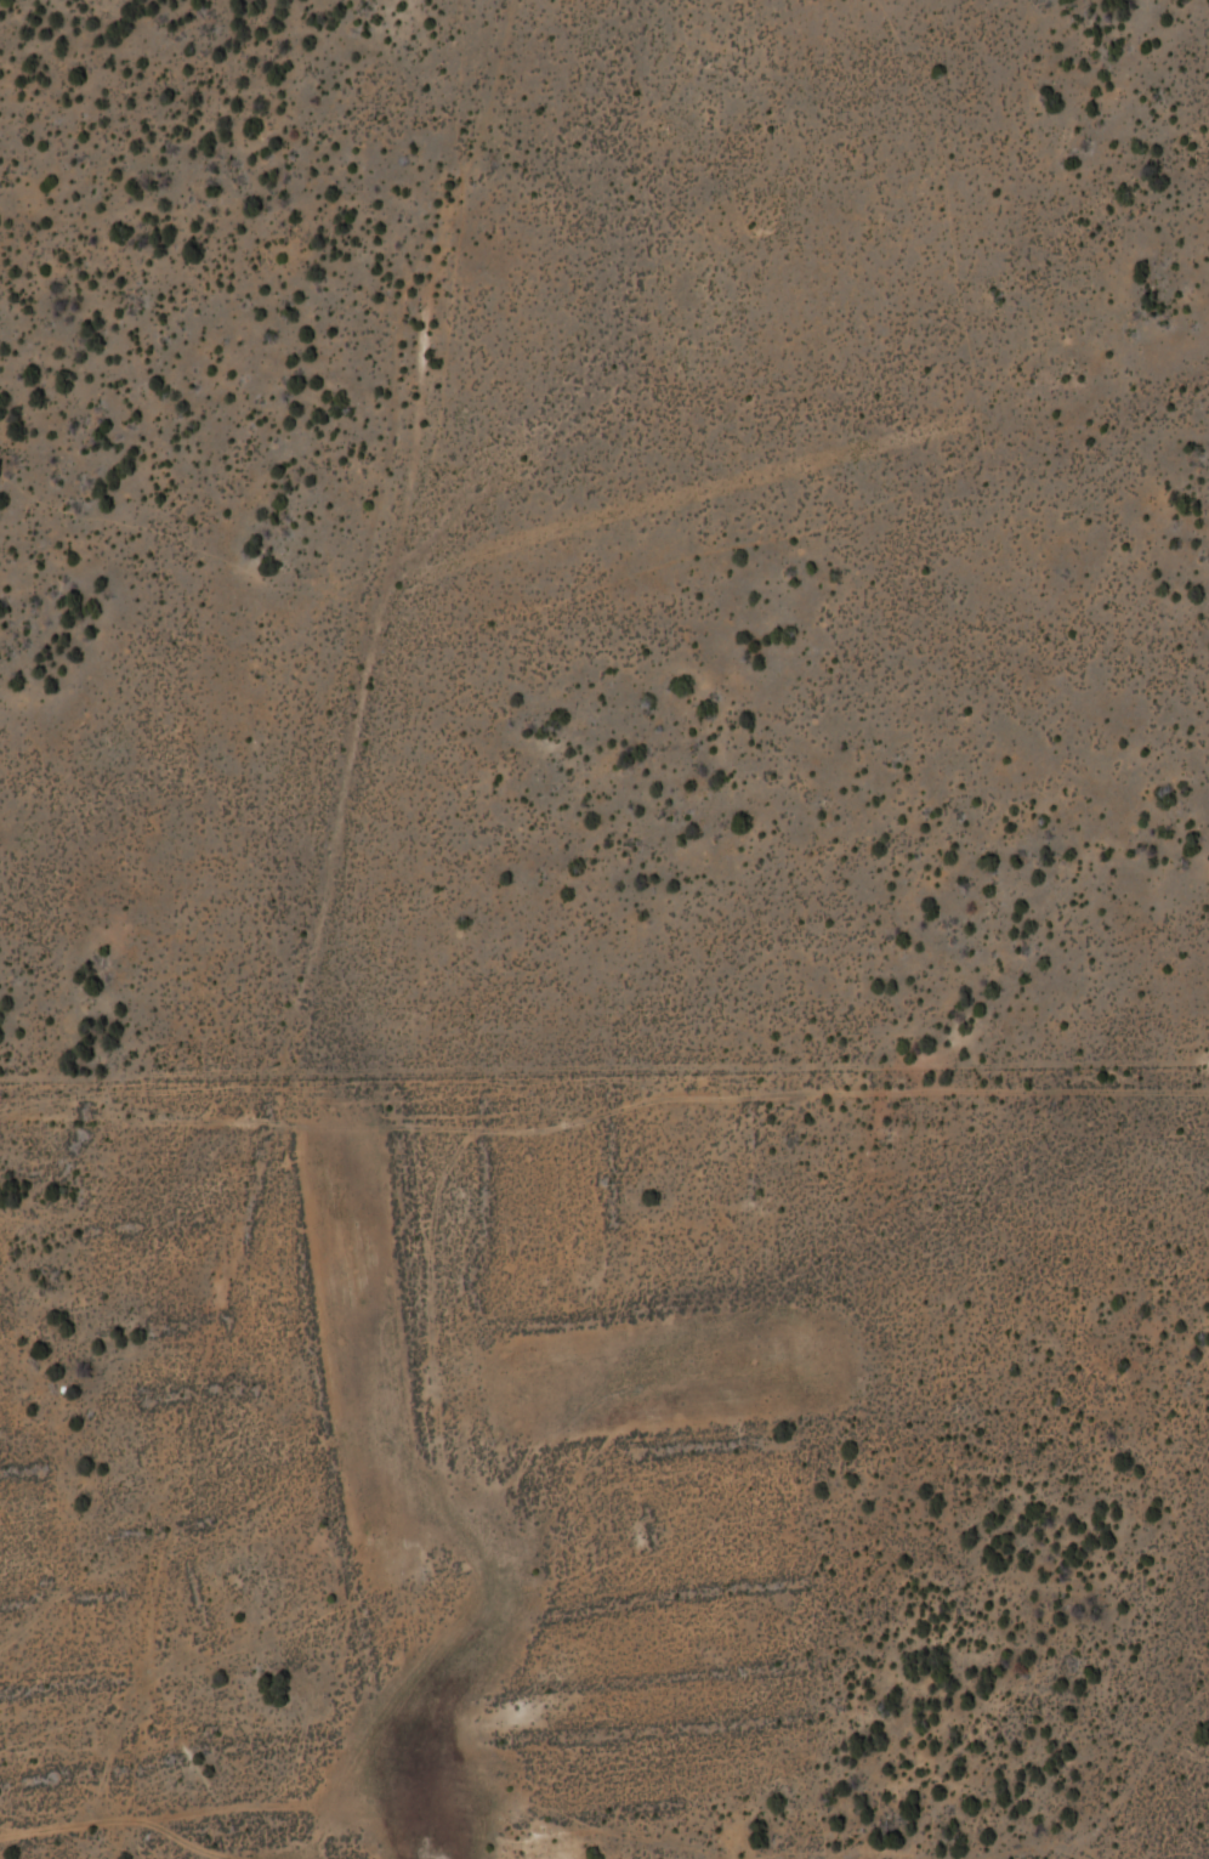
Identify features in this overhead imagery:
road: (311, 937)
road: (601, 1113)

